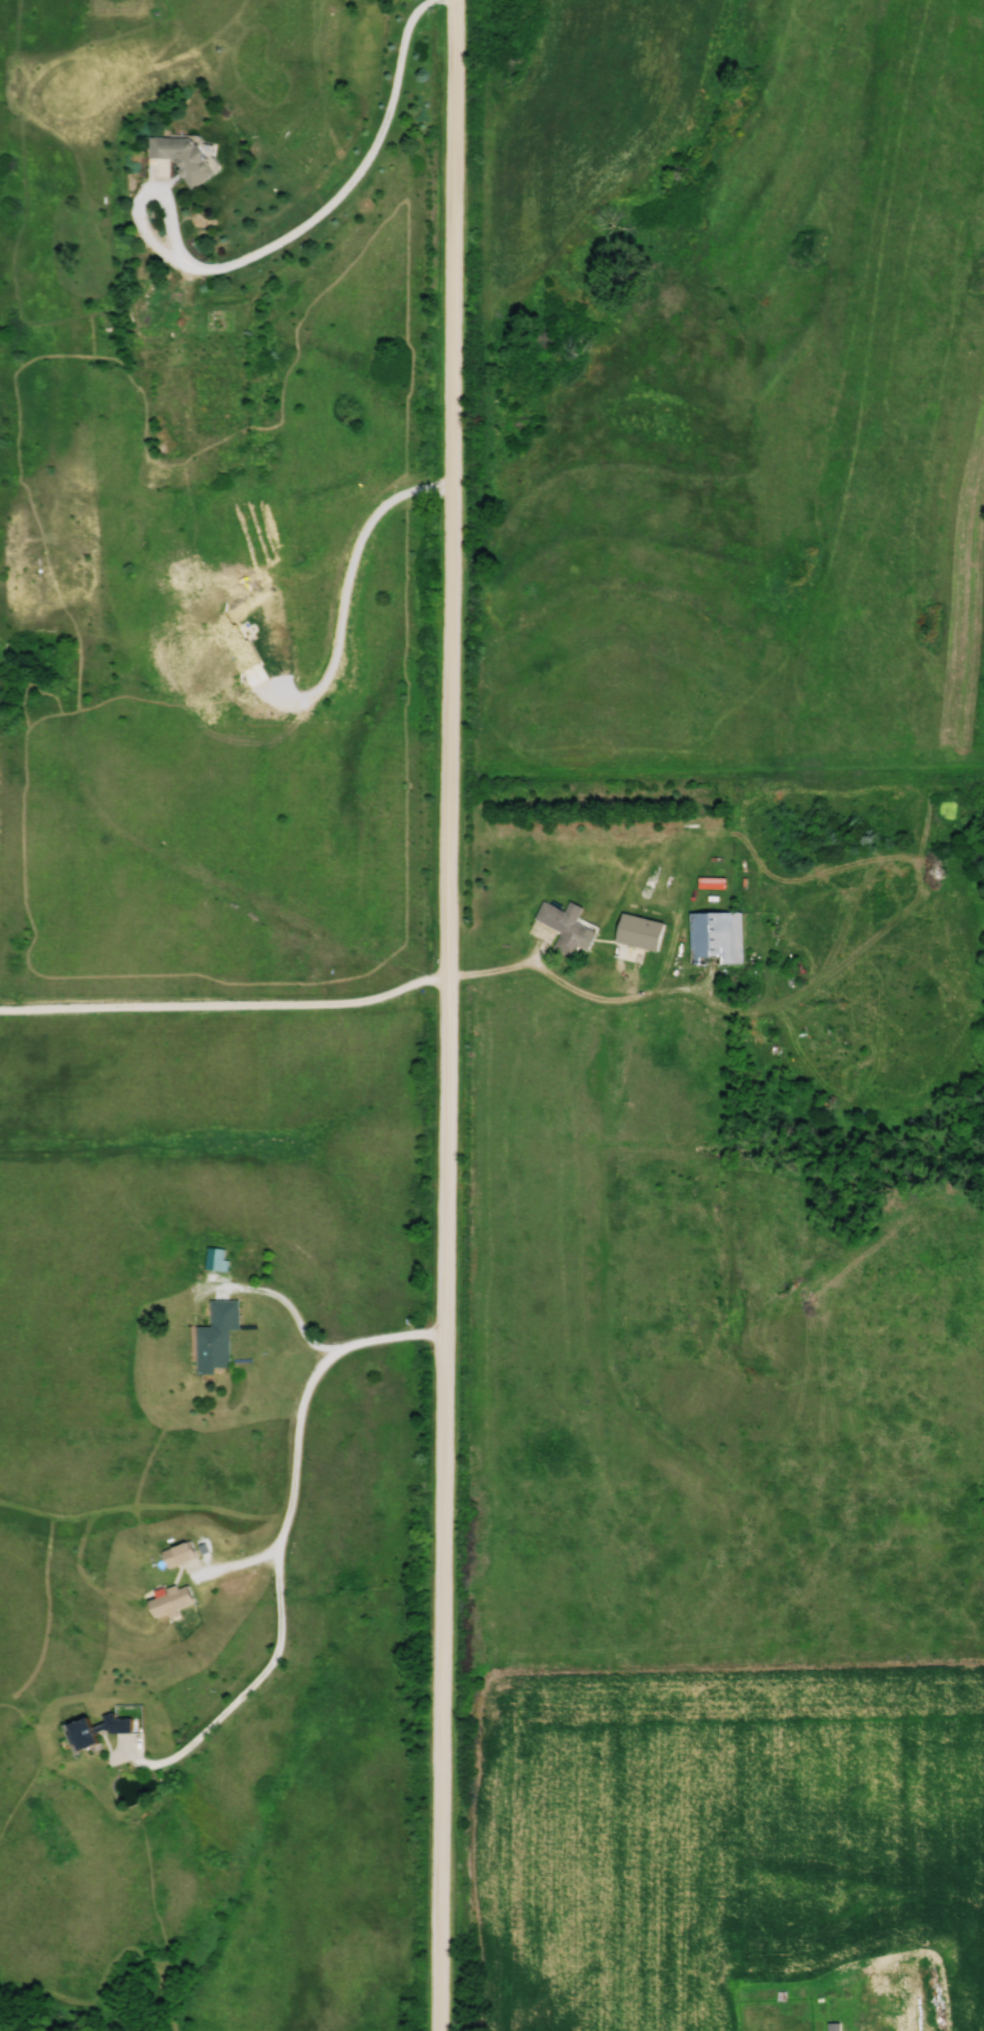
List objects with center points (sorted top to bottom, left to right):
building: (180, 155)
road: (352, 183)
road: (149, 192)
road: (452, 398)
building: (158, 443)
road: (347, 594)
building: (571, 927)
building: (723, 937)
road: (573, 989)
road: (226, 1006)
road: (286, 1303)
building: (220, 1337)
road: (445, 1413)
road: (281, 1542)
building: (185, 1553)
building: (176, 1600)
building: (102, 1730)
building: (894, 1984)

